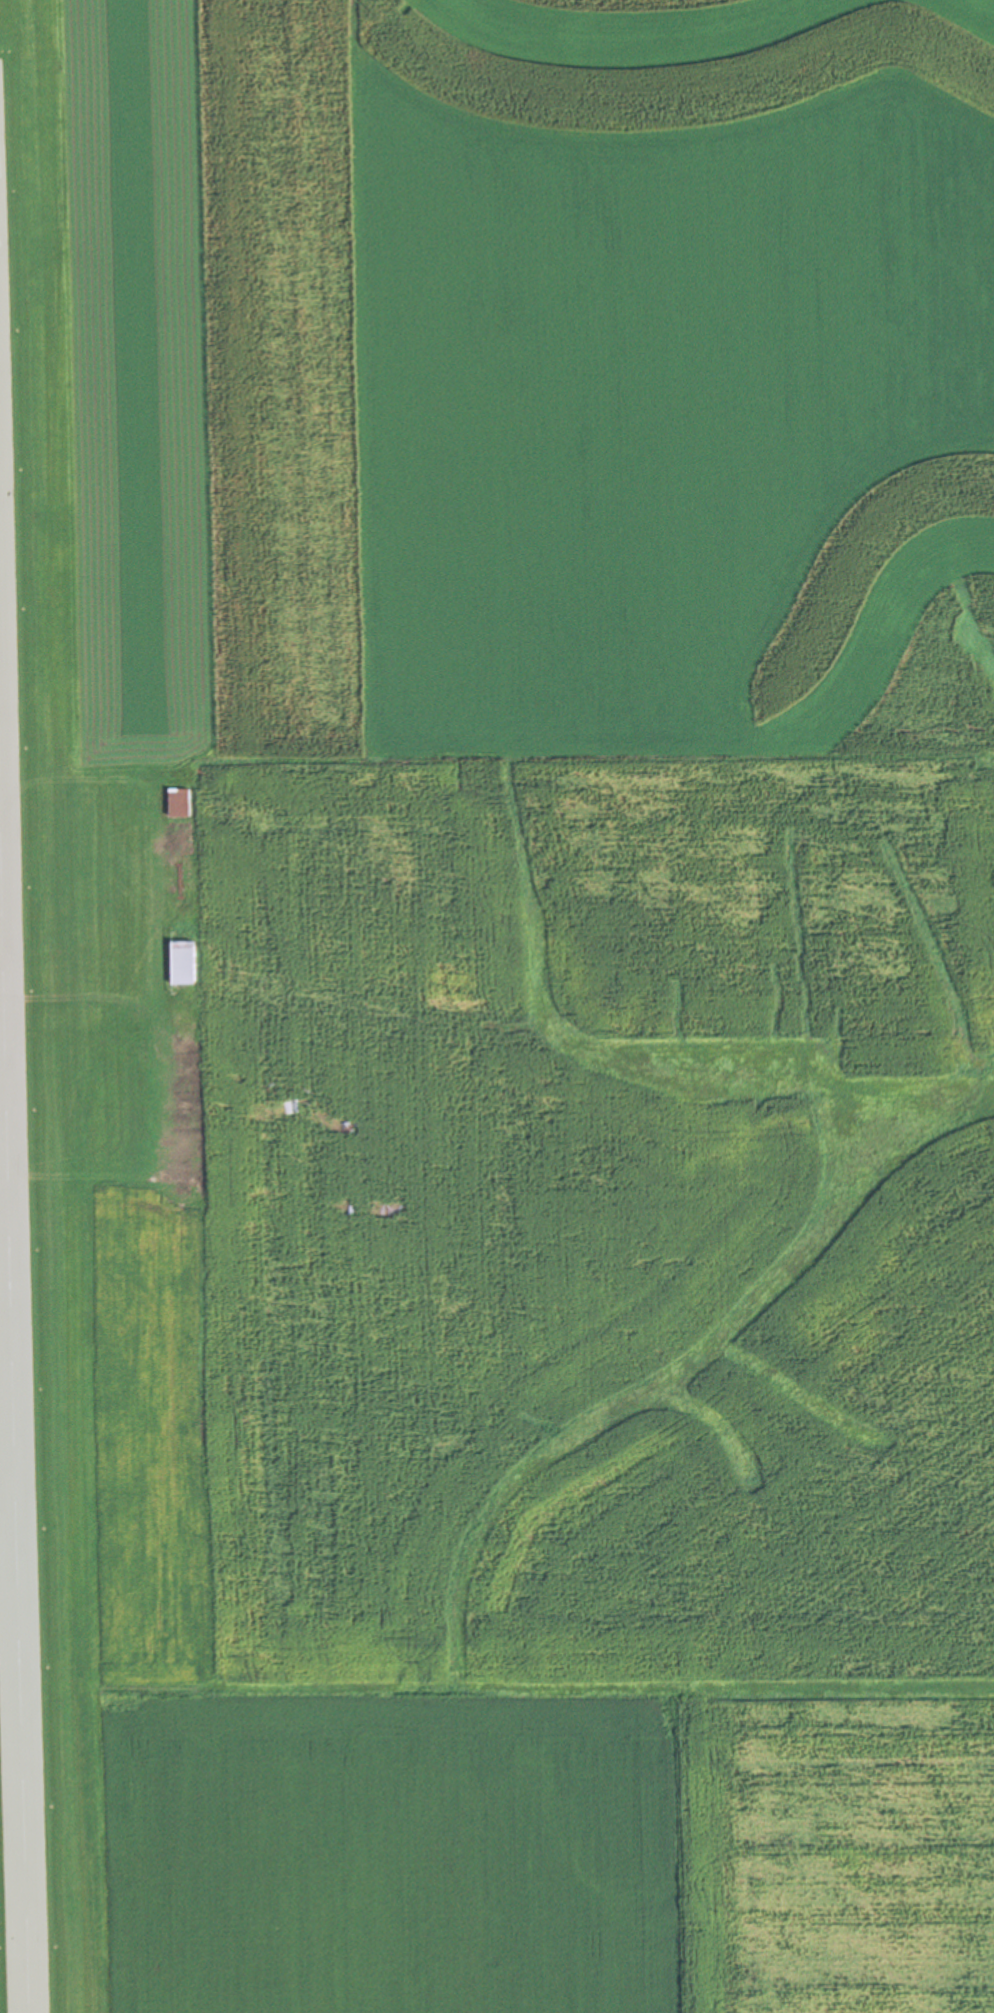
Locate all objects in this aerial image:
airport hangar: (179, 803)
building: (179, 803)
airport hangar: (178, 840)
building: (178, 840)
airport hangar: (179, 876)
building: (179, 876)
airport hangar: (177, 961)
building: (177, 961)
airport taxiway: (1, 989)
airport hangar: (185, 1072)
building: (185, 1072)
airport hangar: (185, 1107)
building: (185, 1107)
airport hangar: (186, 1143)
building: (186, 1143)
airport hangar: (186, 1179)
building: (186, 1179)
airport runway: (13, 1458)

